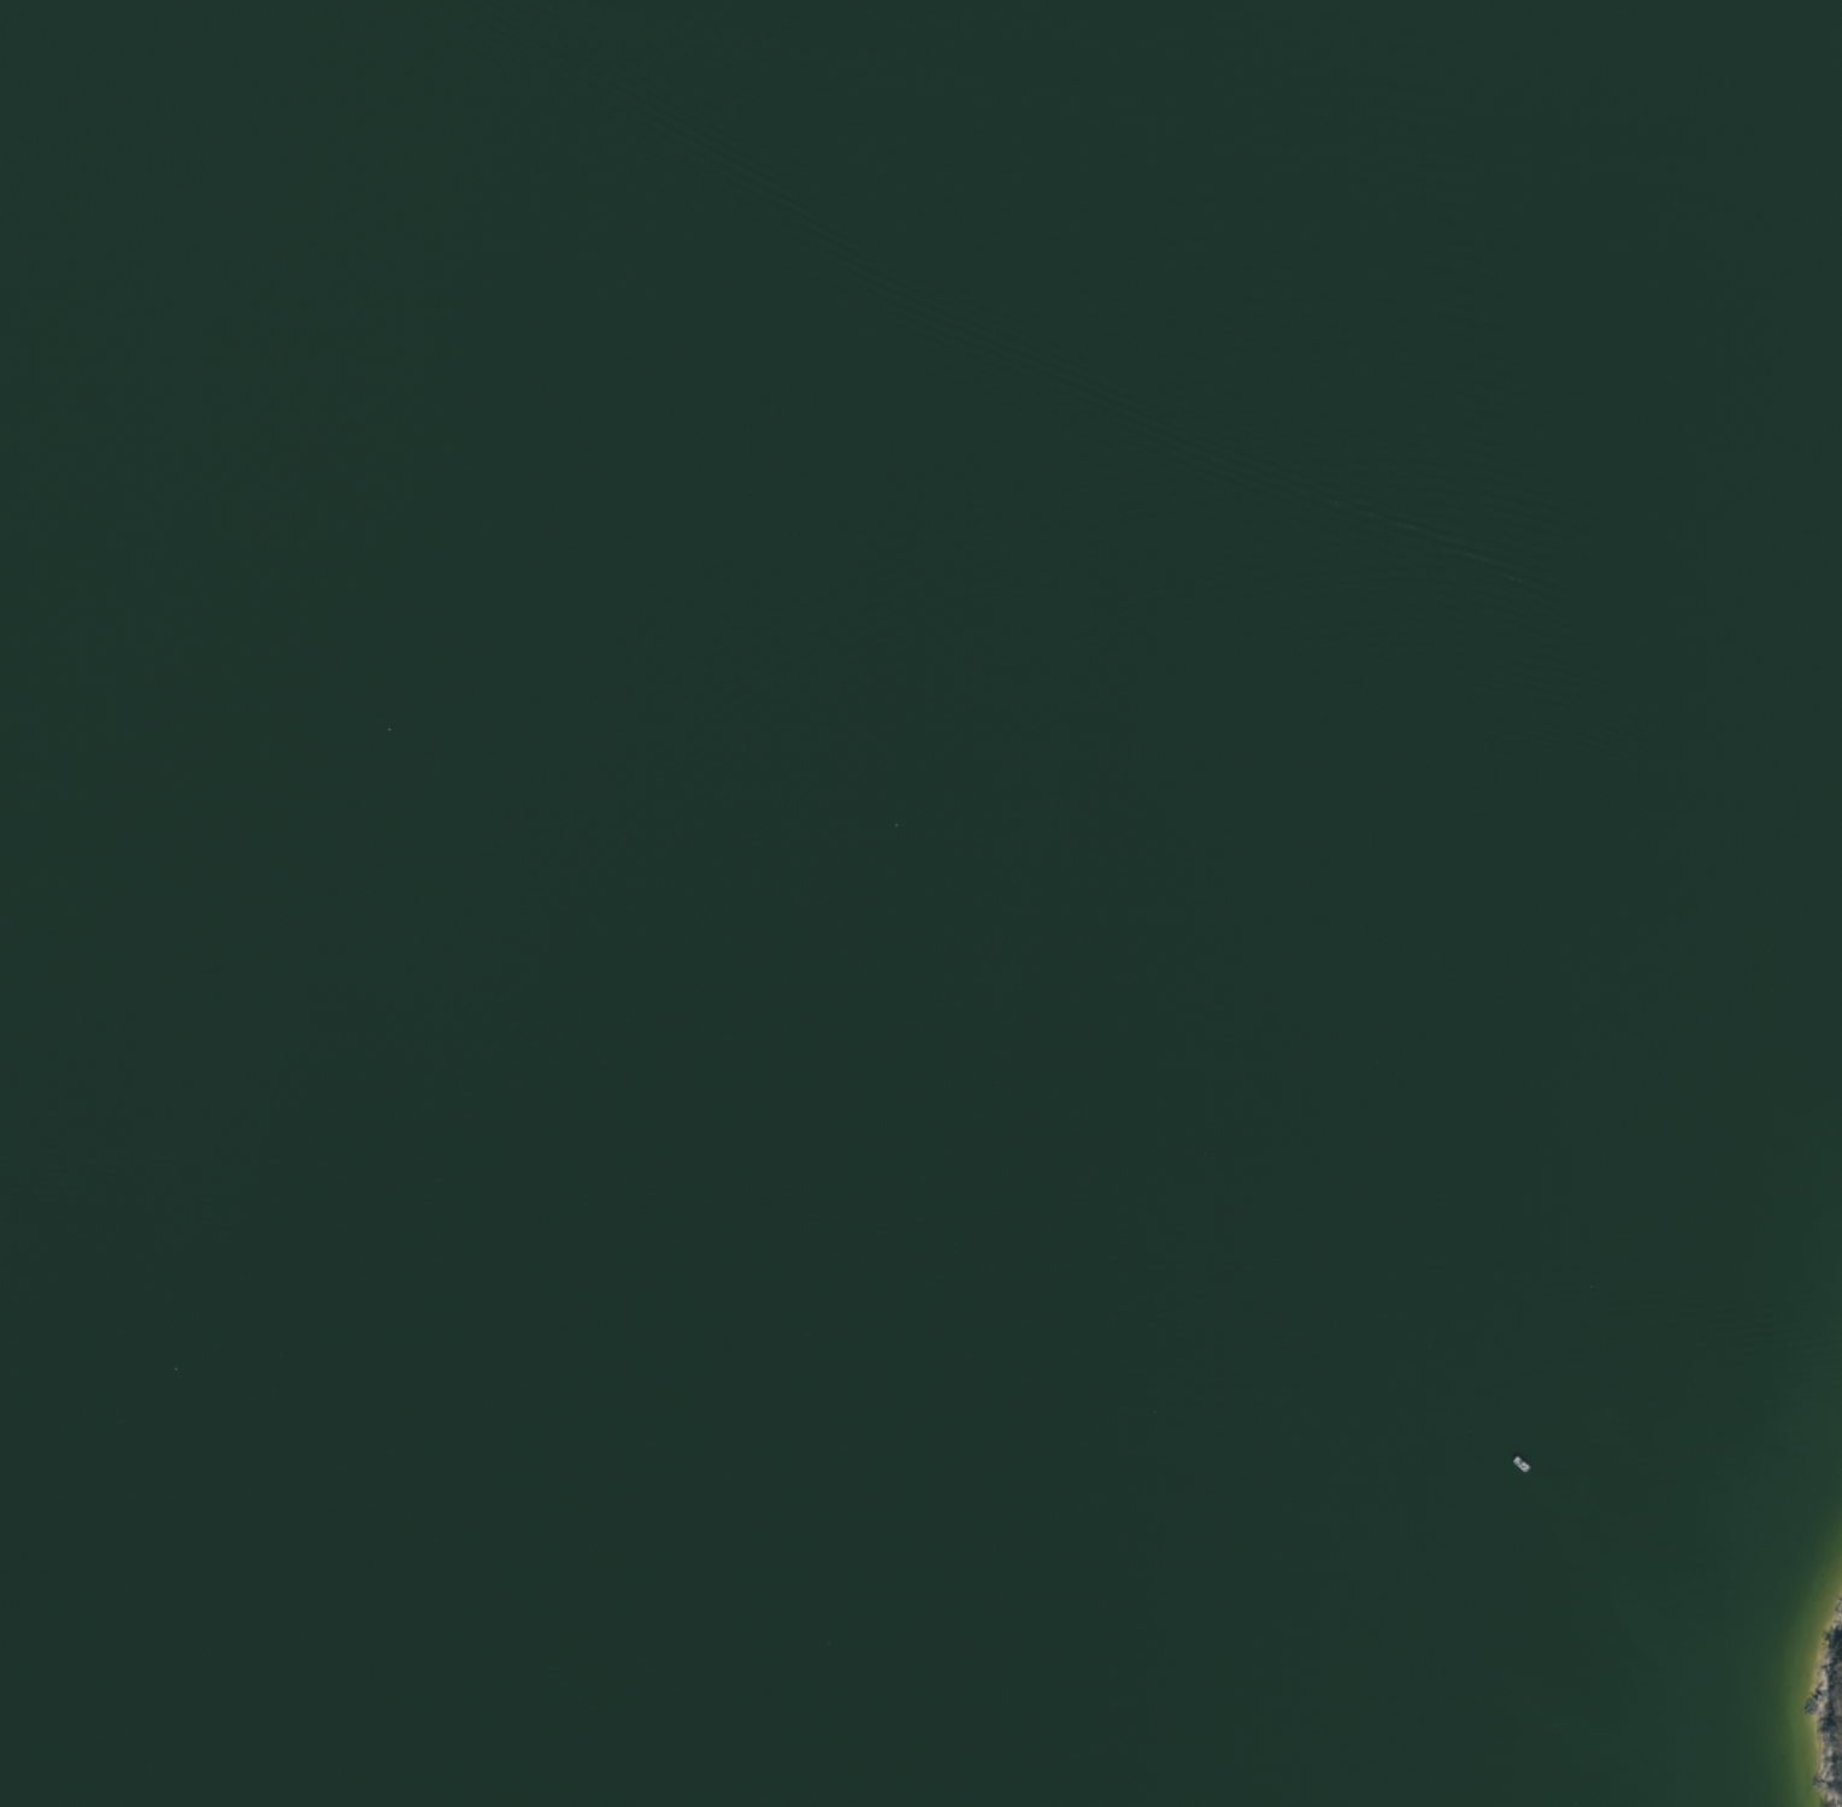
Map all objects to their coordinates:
park: (1822, 1699)

